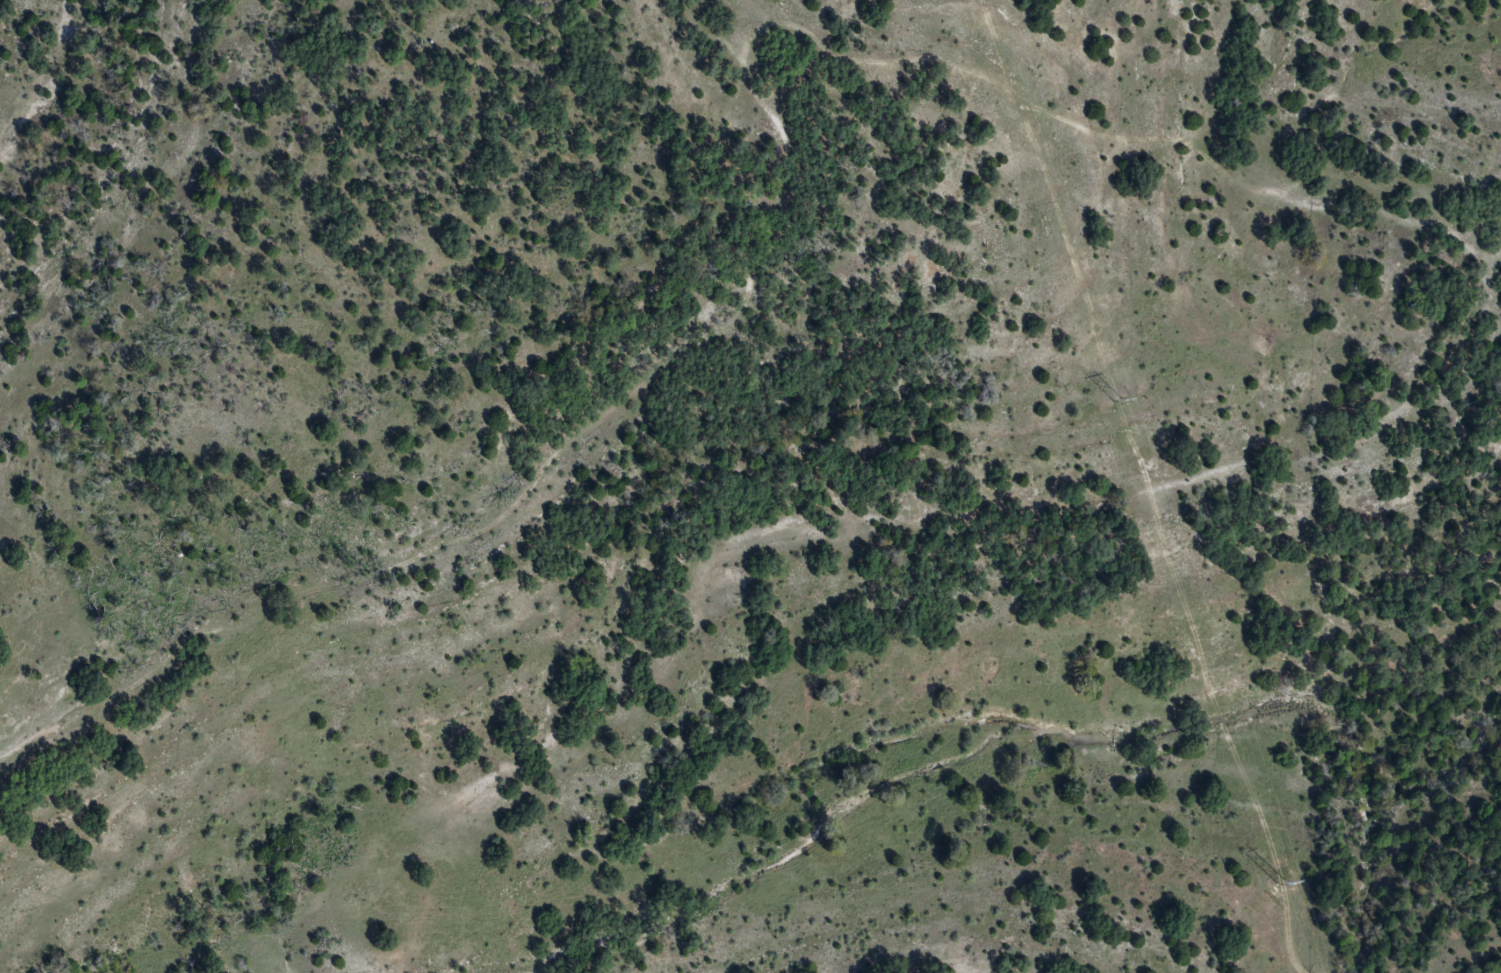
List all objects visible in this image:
power tower: (1113, 402)
power tower: (1274, 876)

